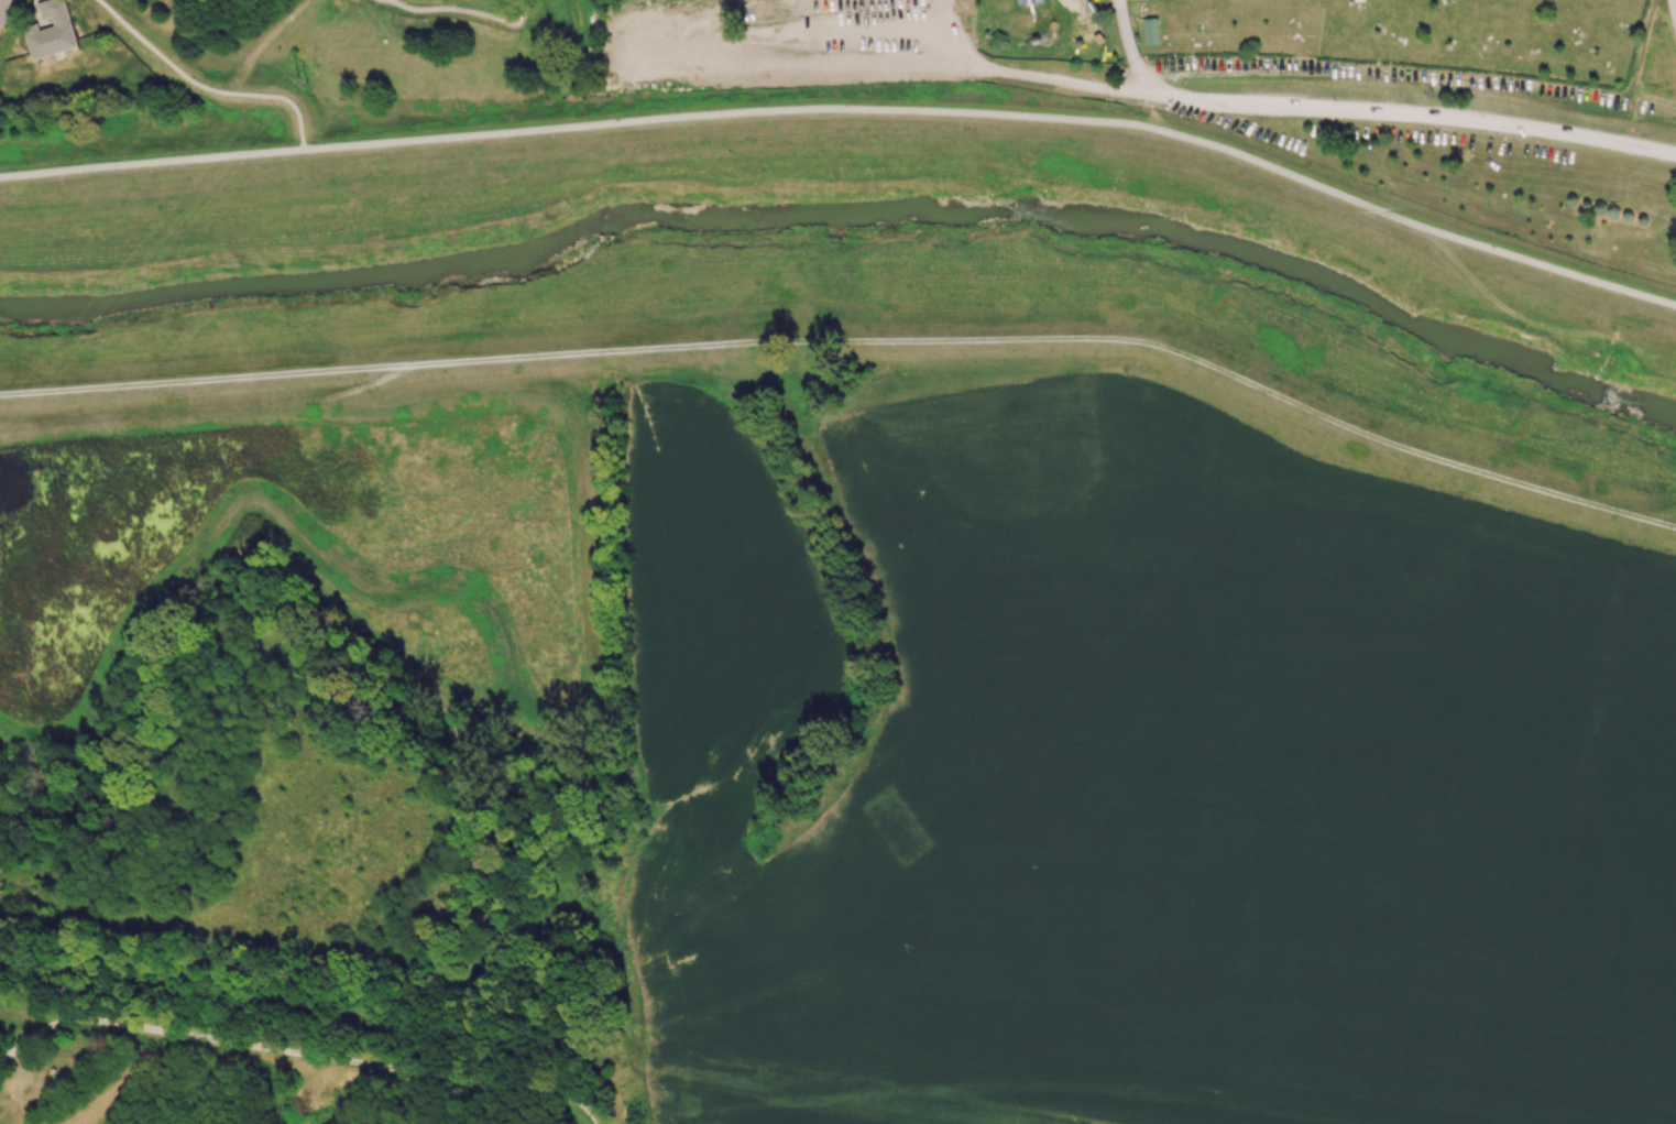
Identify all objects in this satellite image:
road: (388, 0)
road: (391, 0)
building: (1029, 2)
road: (443, 8)
building: (3, 11)
road: (522, 11)
road: (1672, 12)
road: (866, 18)
road: (950, 29)
building: (52, 30)
building: (1150, 30)
road: (738, 34)
building: (1100, 39)
road: (909, 44)
parking lot: (773, 45)
road: (865, 47)
park: (394, 48)
road: (1131, 51)
road: (908, 58)
road: (763, 66)
power tower: (308, 77)
theme park: (1261, 86)
road: (204, 88)
road: (1312, 108)
road: (1003, 114)
parking lot: (1459, 131)
road: (151, 164)
river: (851, 217)
road: (853, 340)
road: (298, 1051)

